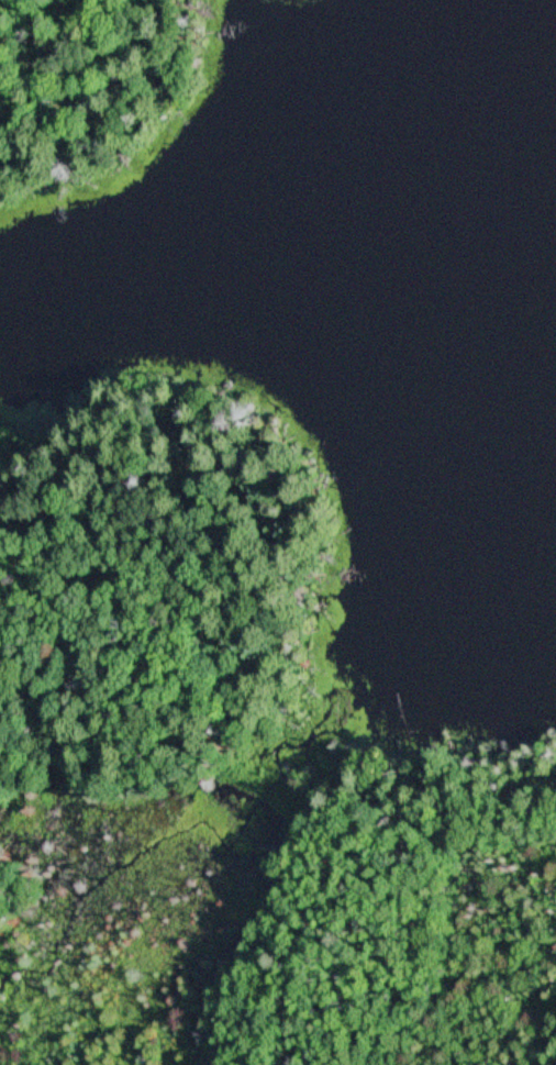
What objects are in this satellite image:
road: (62, 79)

